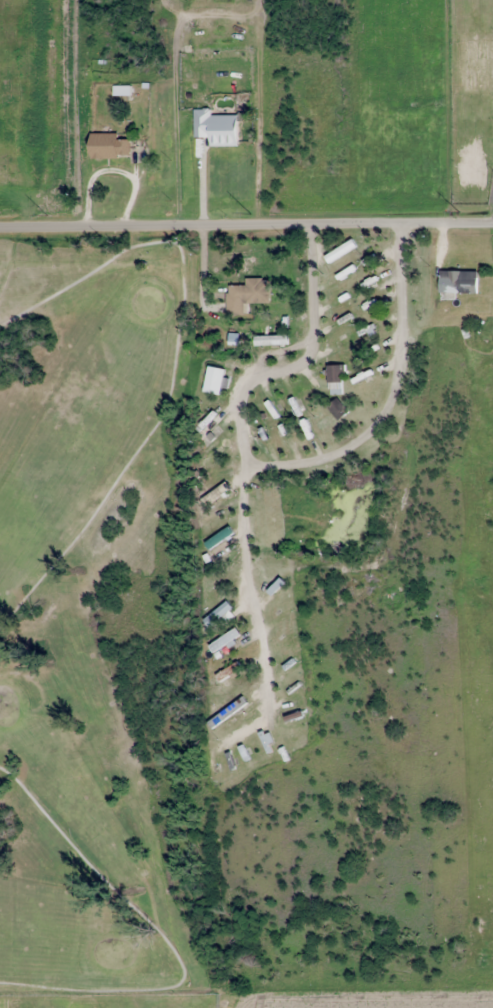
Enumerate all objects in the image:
building: (216, 127)
building: (108, 146)
road: (246, 216)
building: (340, 251)
road: (470, 254)
building: (457, 283)
building: (246, 295)
building: (269, 347)
building: (335, 379)
road: (383, 406)
building: (337, 408)
road: (457, 446)
building: (209, 457)
building: (213, 495)
building: (219, 536)
building: (217, 585)
building: (218, 616)
building: (225, 642)
building: (228, 673)
building: (227, 713)

